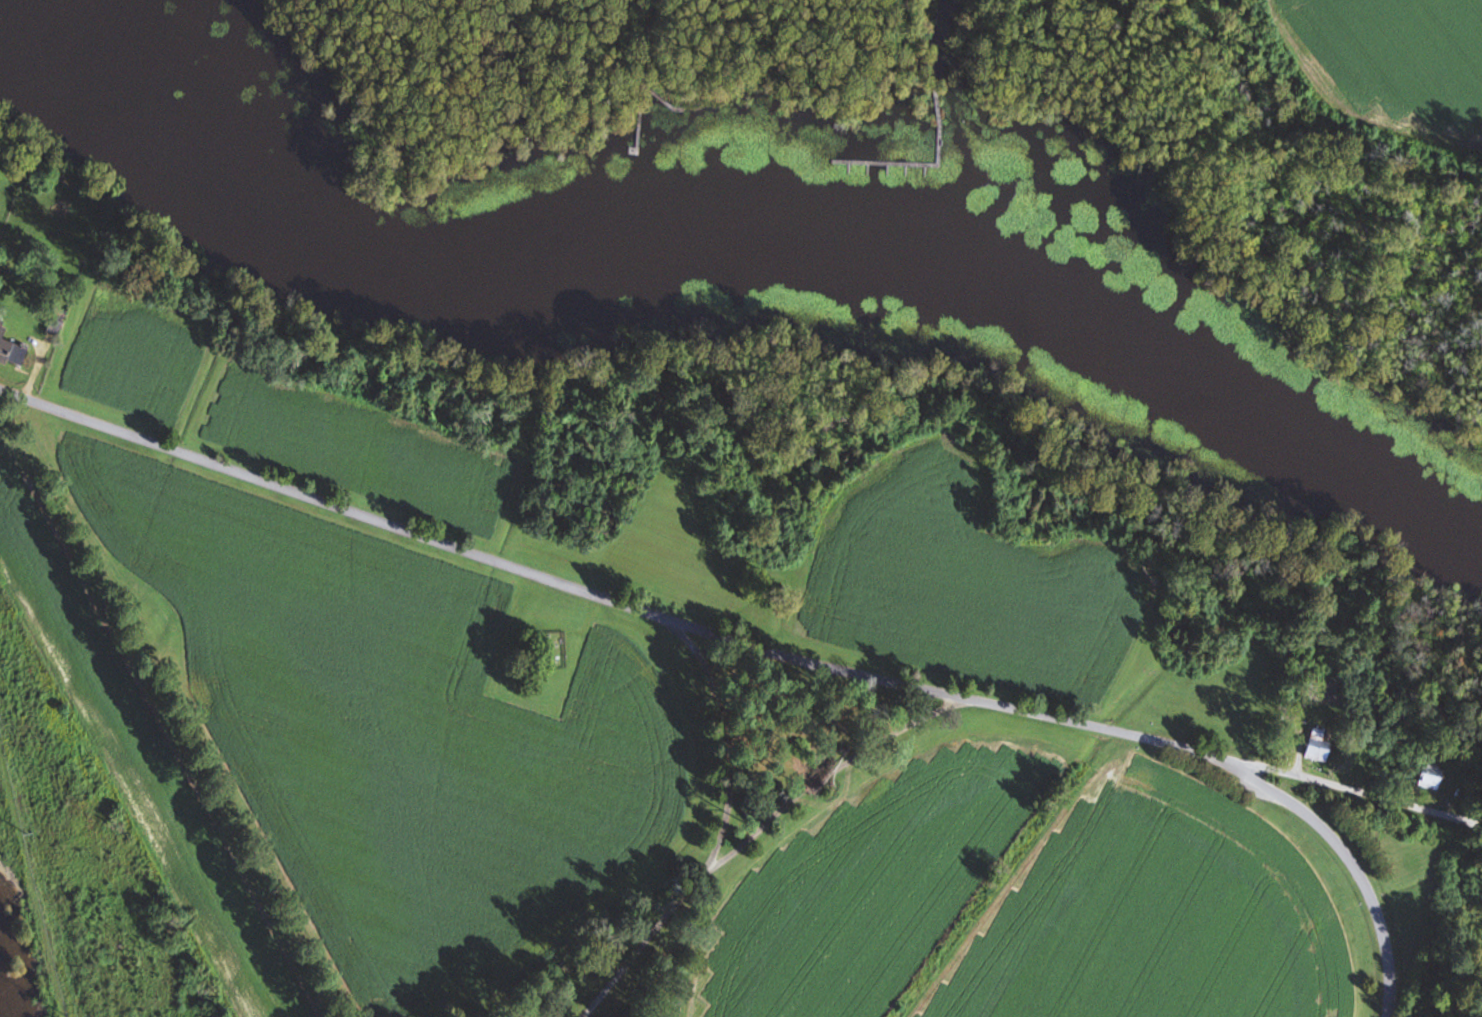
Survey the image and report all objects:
road: (643, 79)
road: (661, 100)
road: (939, 162)
building: (13, 351)
road: (732, 637)
park: (545, 649)
road: (724, 739)
building: (1320, 747)
building: (1432, 777)
road: (754, 832)
road: (1349, 859)

